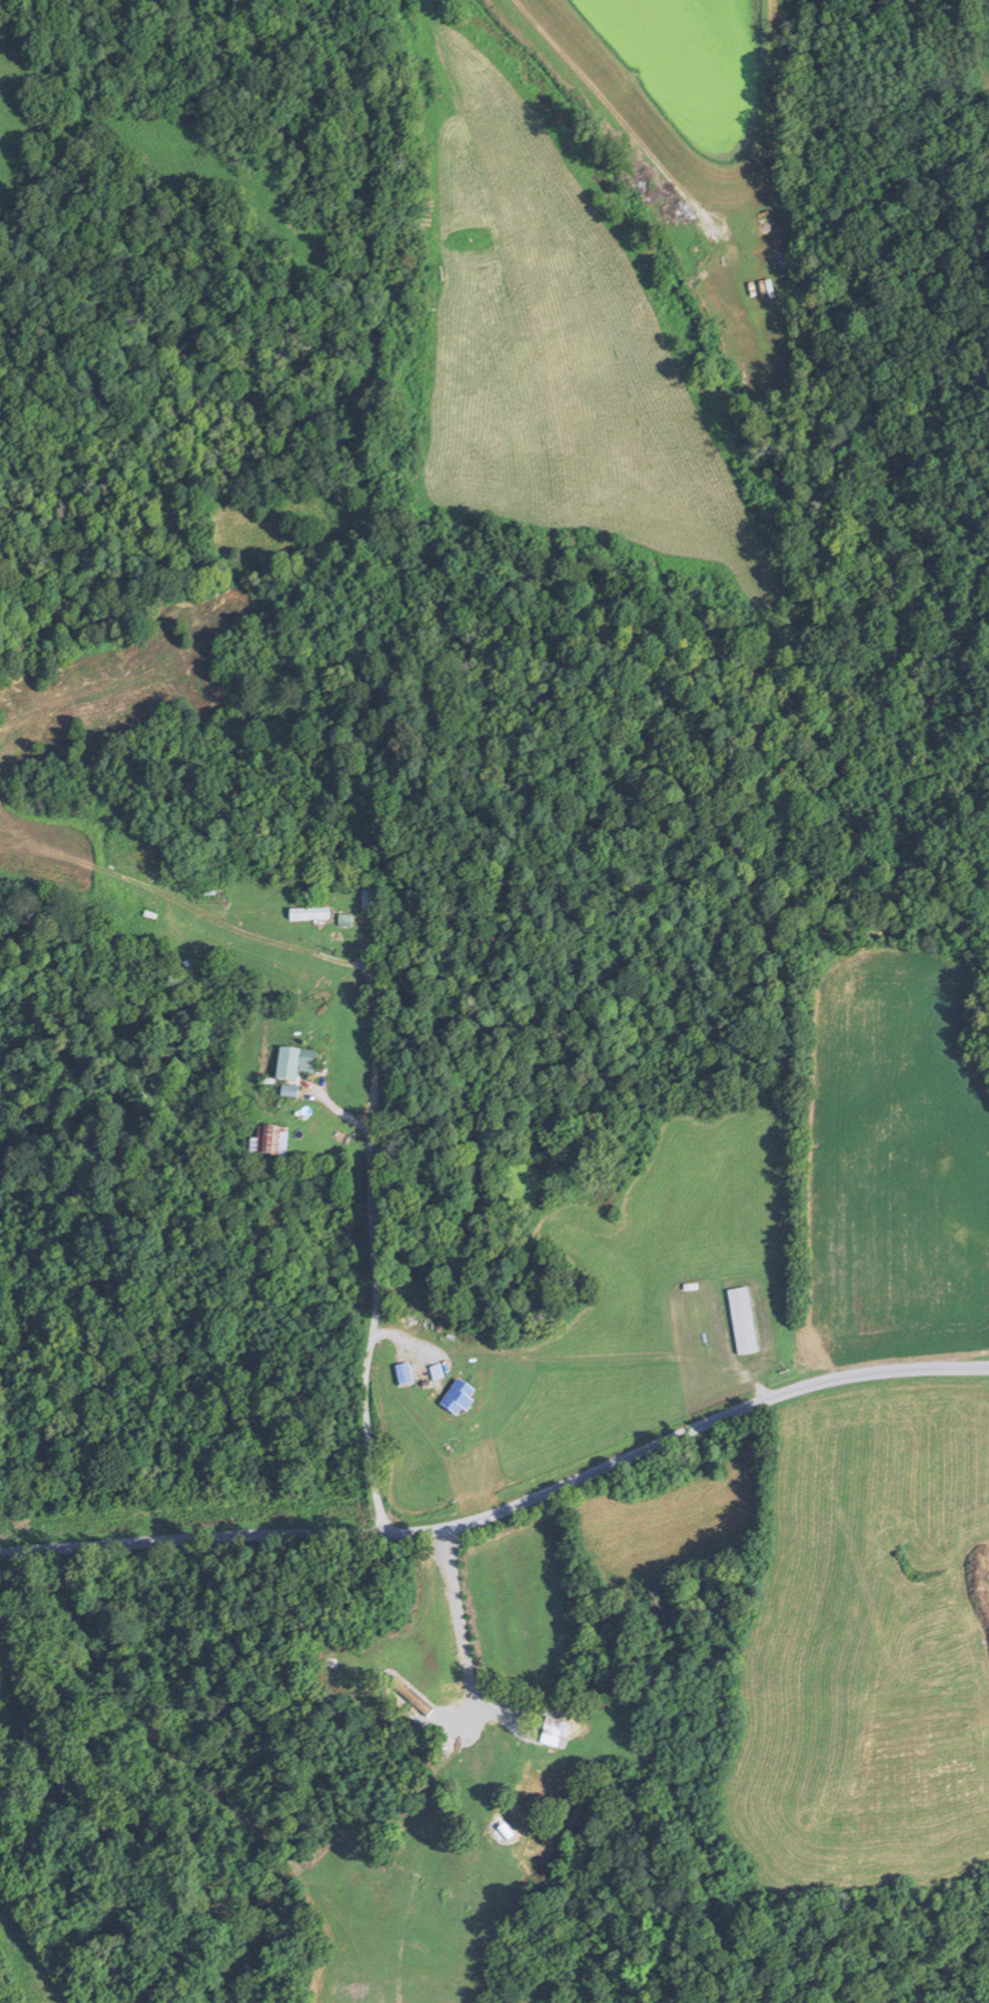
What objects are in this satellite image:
road: (620, 115)
building: (370, 897)
building: (314, 917)
building: (349, 920)
building: (309, 1059)
building: (285, 1066)
road: (335, 1111)
building: (266, 1143)
road: (370, 1262)
road: (719, 1284)
building: (741, 1323)
road: (414, 1341)
building: (463, 1373)
building: (415, 1398)
building: (454, 1400)
road: (505, 1511)
road: (455, 1604)
road: (459, 1712)
building: (552, 1729)
building: (466, 1766)
road: (28, 1960)

